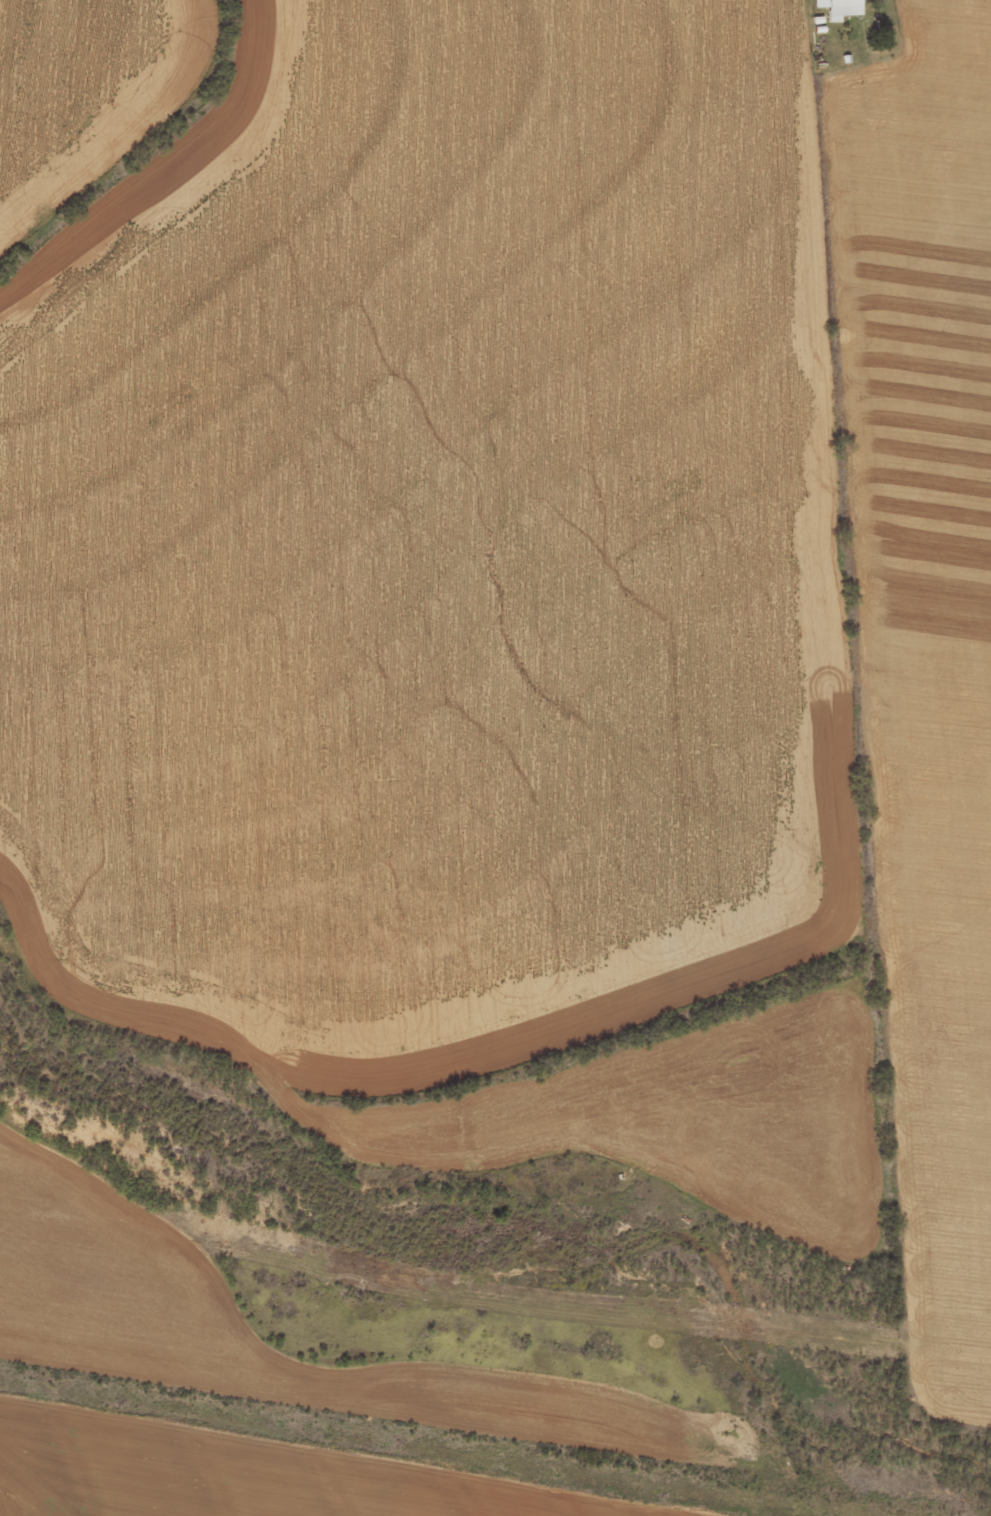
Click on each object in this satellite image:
building: (837, 12)

